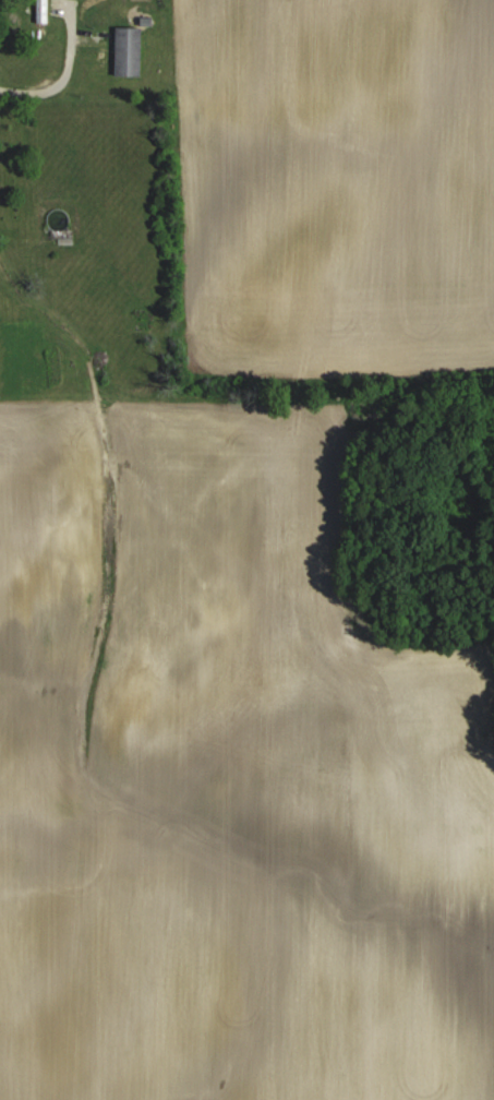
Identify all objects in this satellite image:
building: (41, 10)
building: (128, 50)
road: (63, 74)

